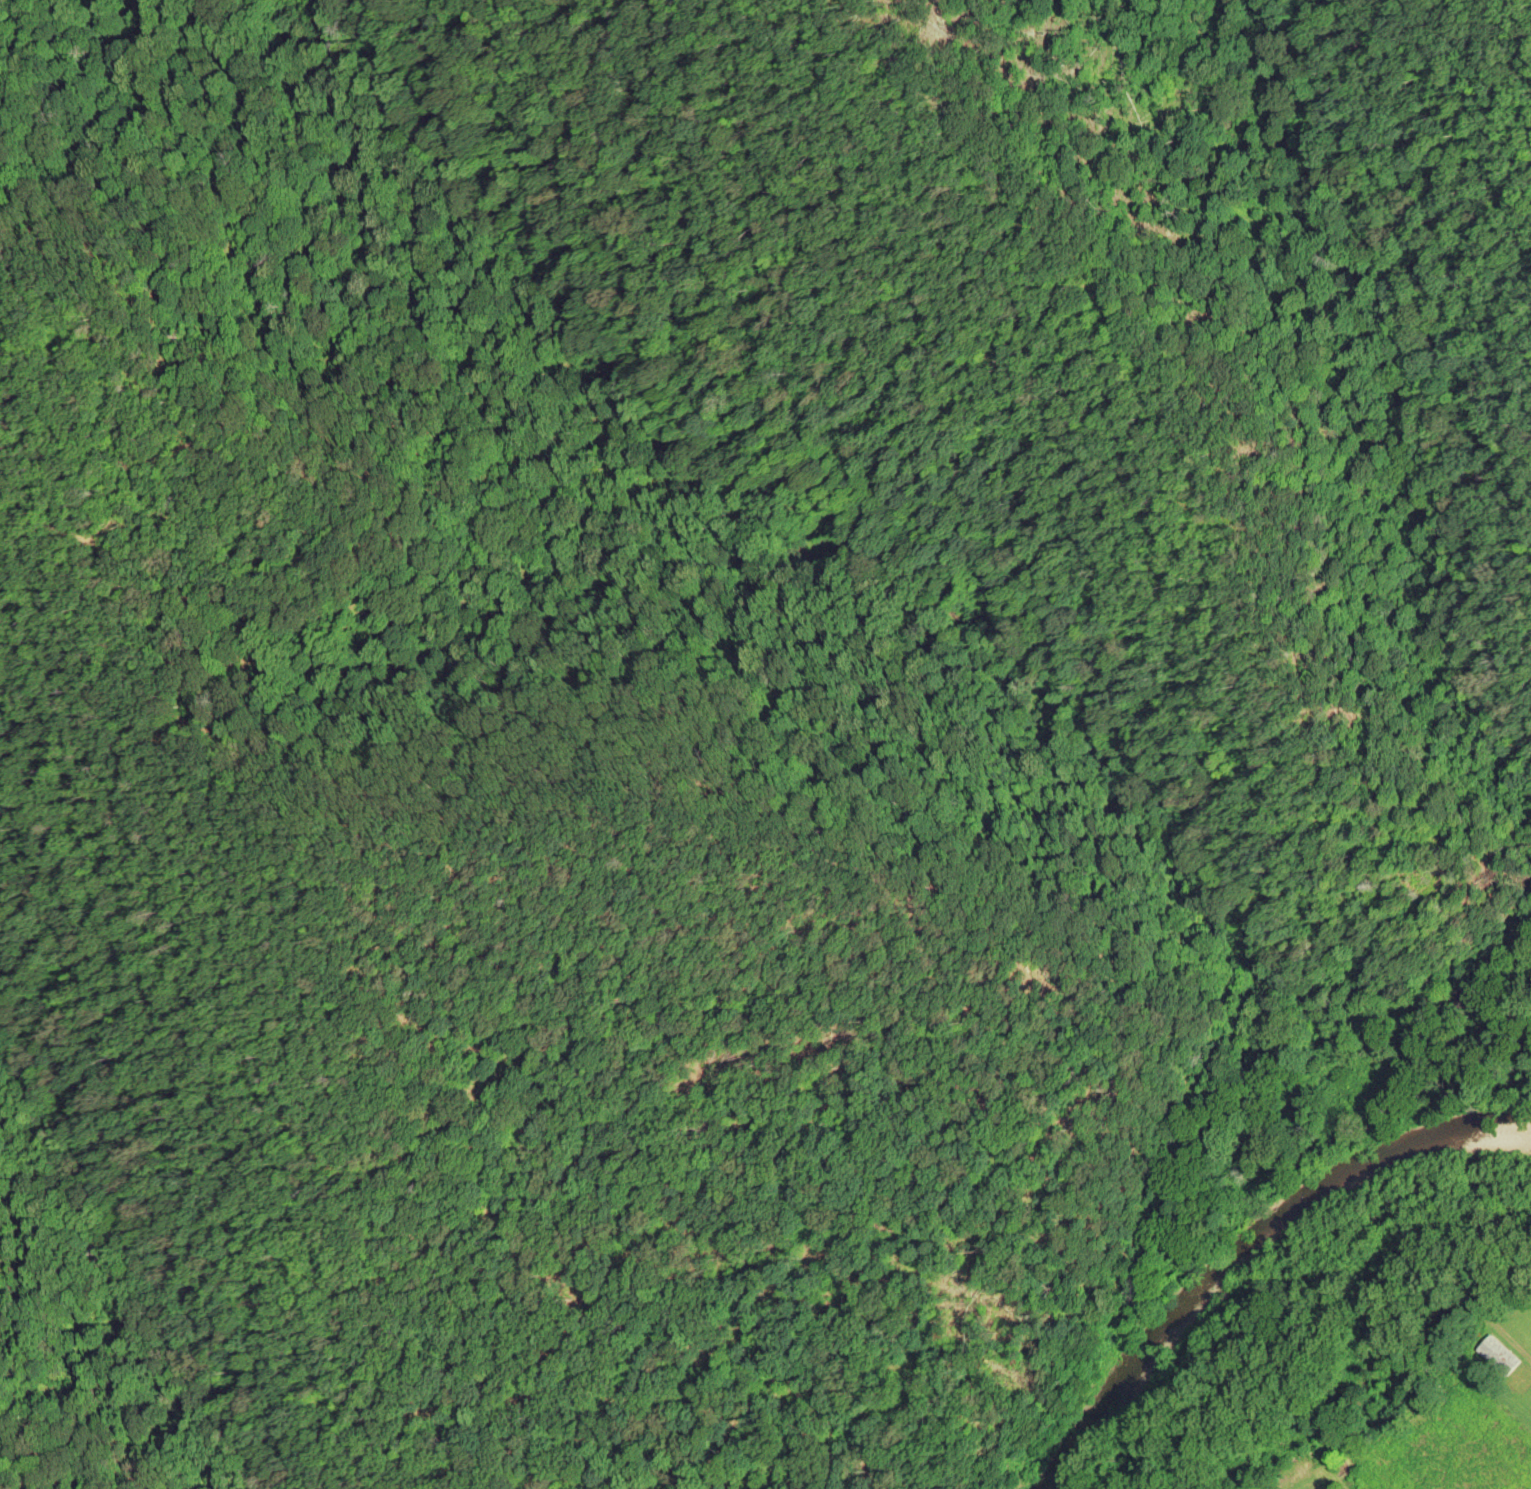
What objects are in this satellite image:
river: (1263, 1251)

